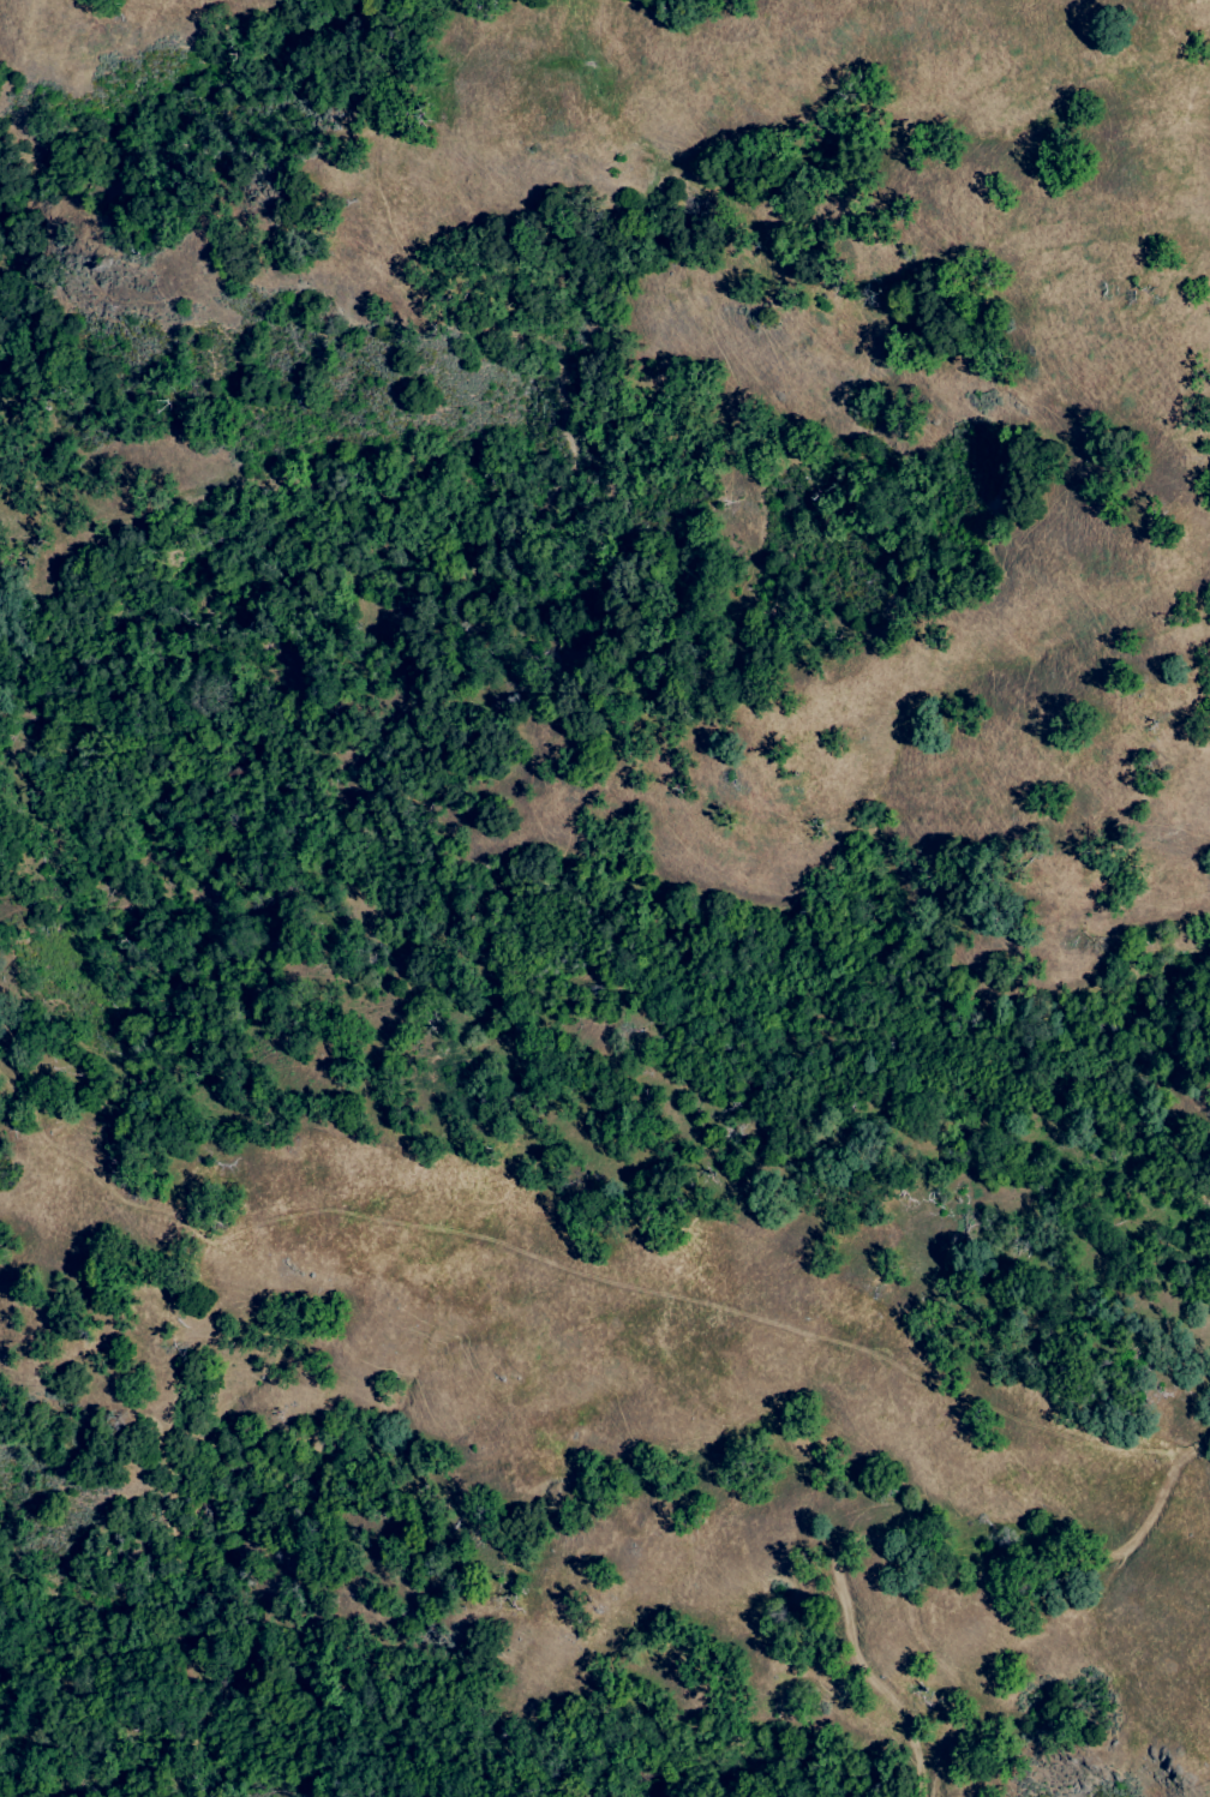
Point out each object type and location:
road: (1158, 1503)
road: (843, 1551)

